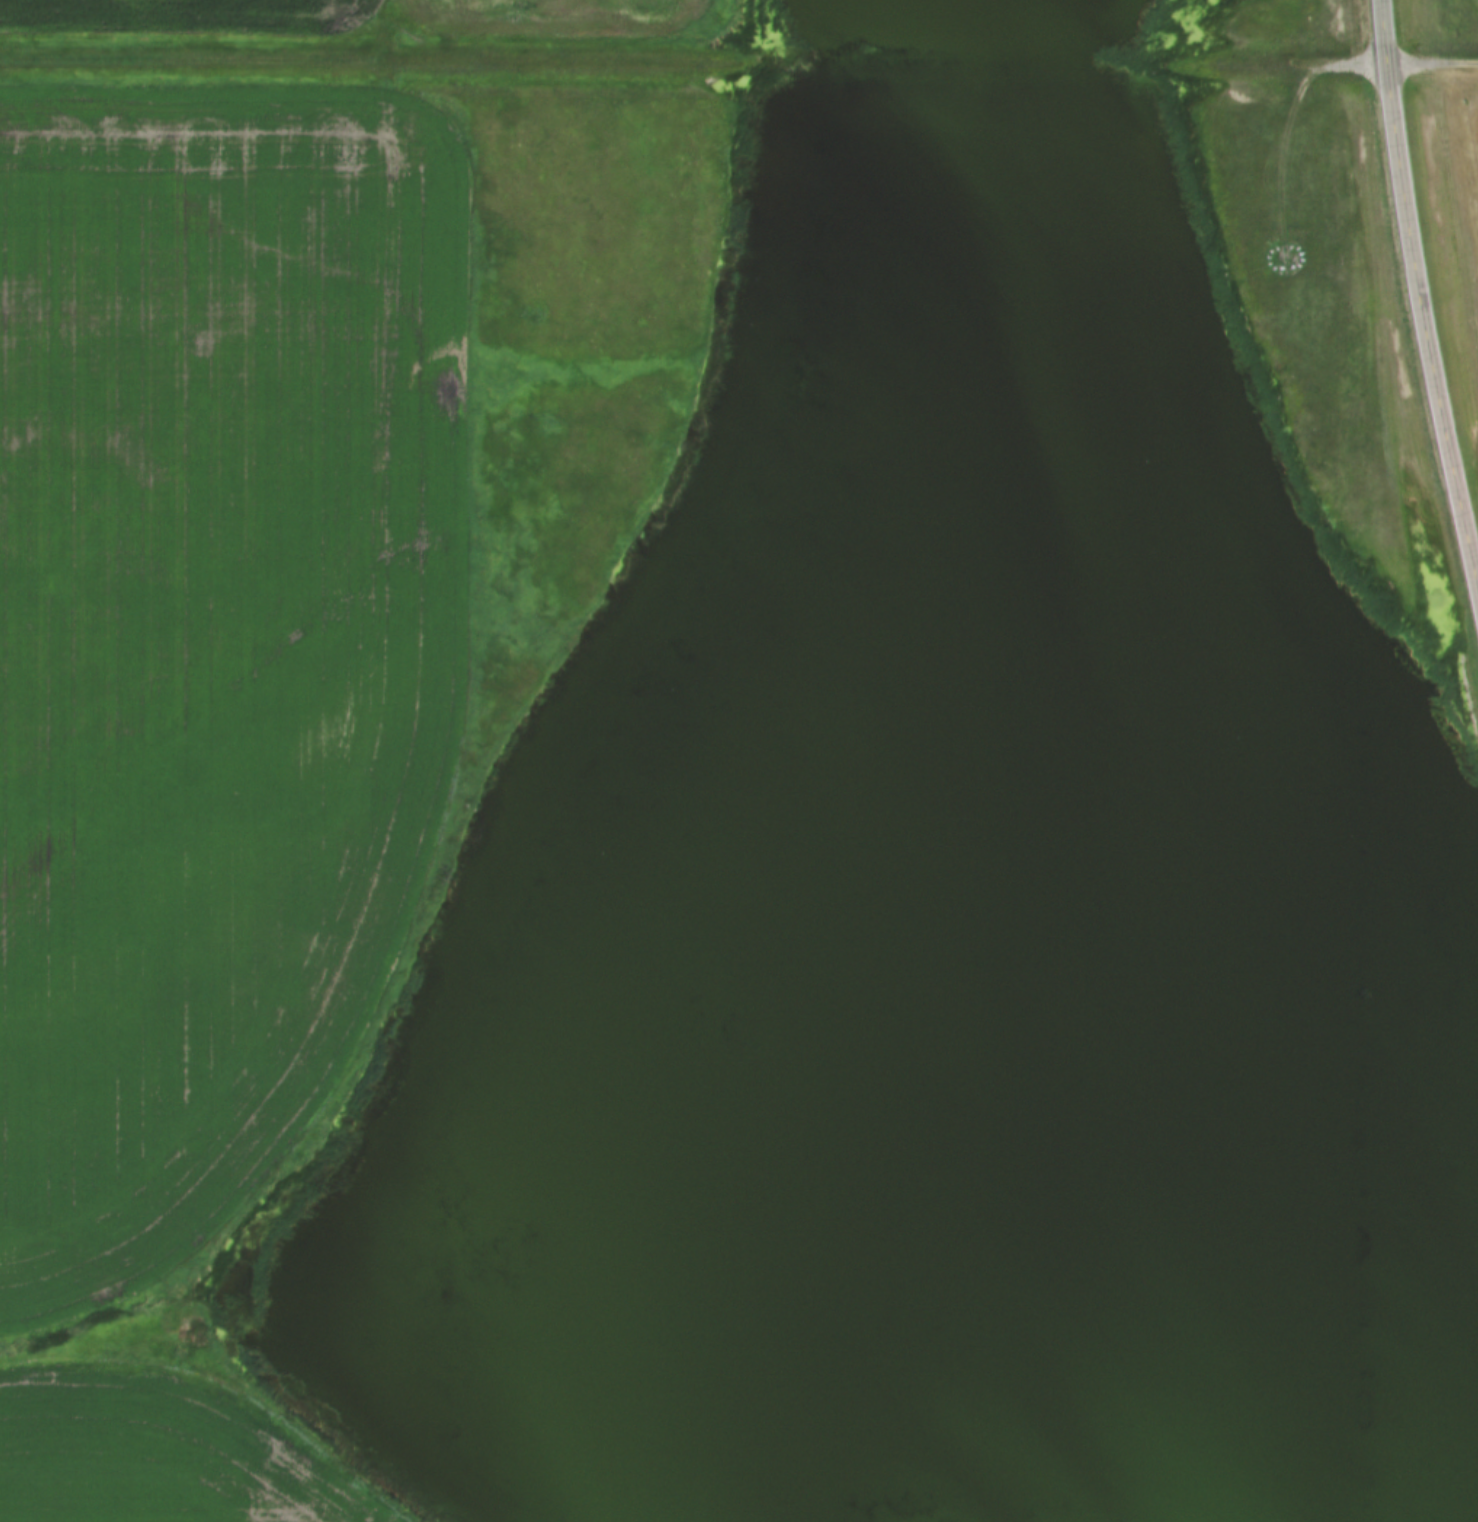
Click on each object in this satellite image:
road: (694, 63)
road: (1433, 64)
road: (1419, 287)

